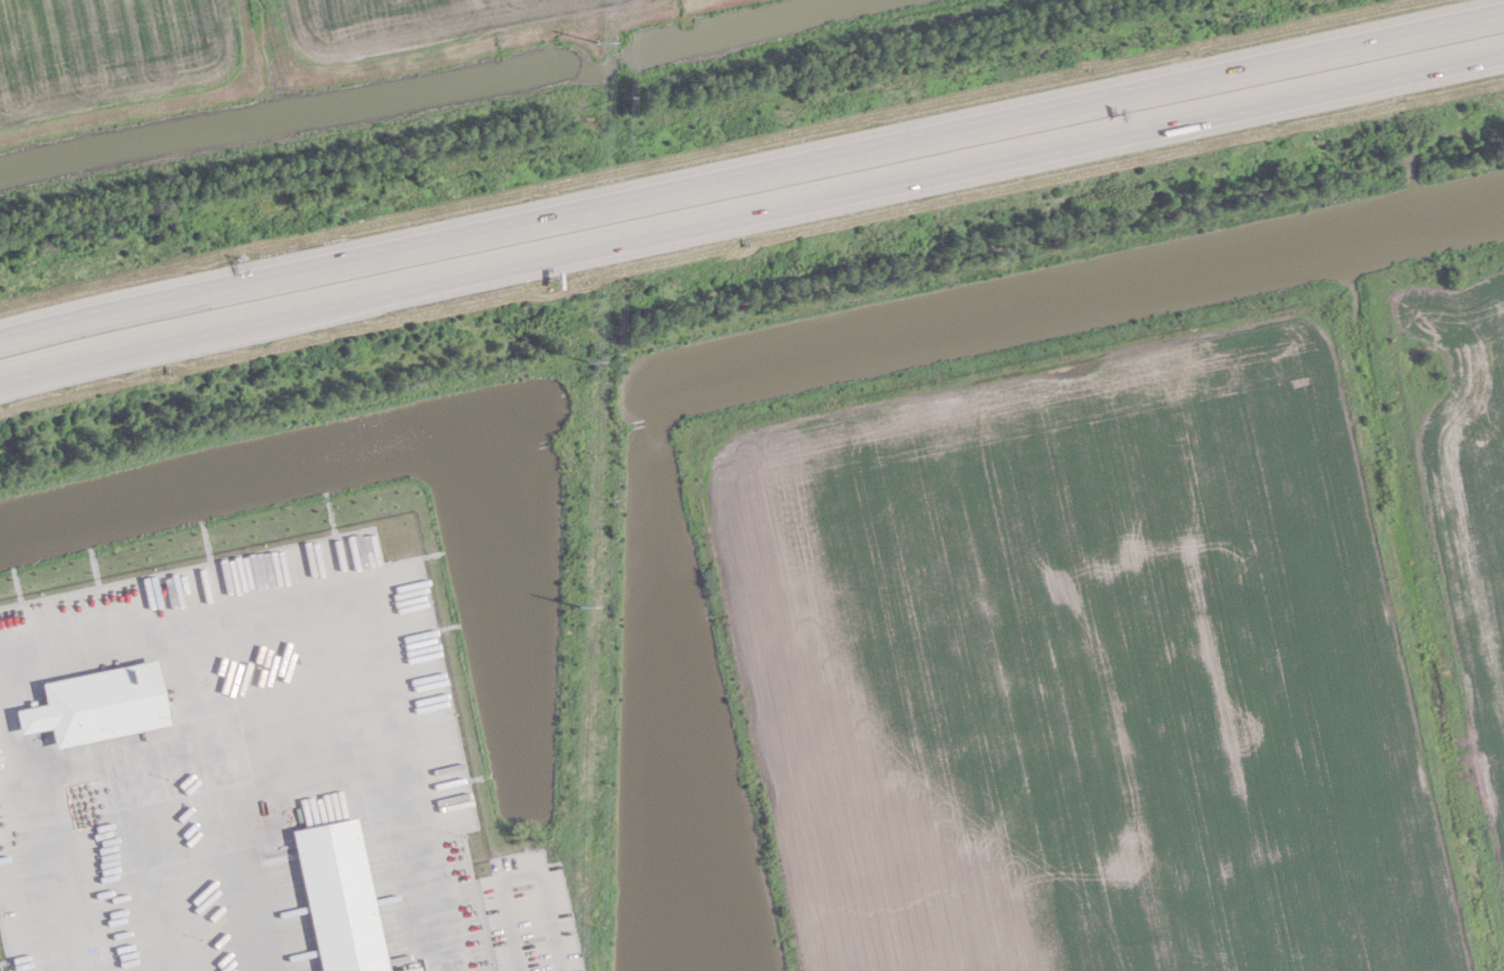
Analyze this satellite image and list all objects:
power tower: (599, 43)
road: (900, 140)
road: (903, 178)
road: (147, 301)
road: (151, 339)
power tower: (588, 361)
road: (377, 588)
power tower: (579, 603)
building: (96, 704)
road: (212, 737)
road: (47, 836)
road: (239, 854)
road: (152, 863)
road: (524, 873)
building: (338, 897)
parking lot: (529, 915)
building: (407, 969)

